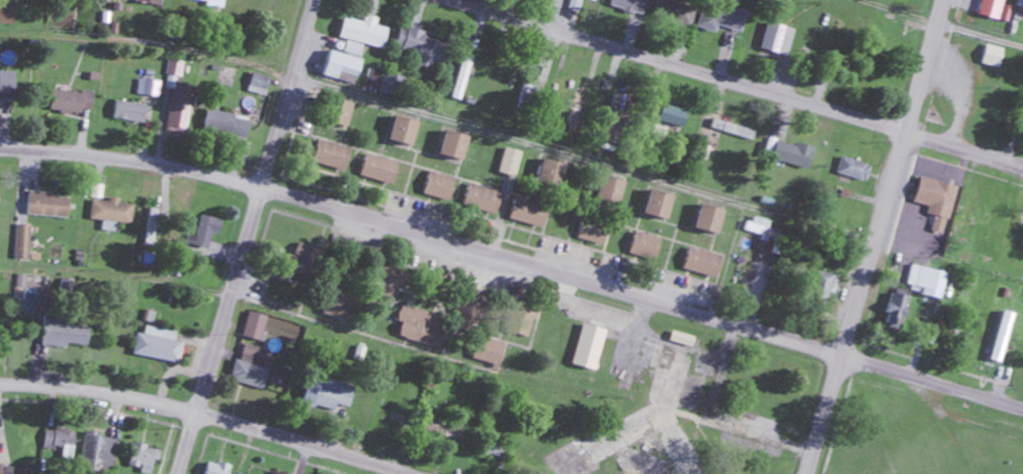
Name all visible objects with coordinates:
building: (107, 0)
building: (593, 0)
building: (207, 1)
building: (146, 2)
building: (630, 5)
building: (672, 13)
building: (721, 17)
road: (932, 28)
building: (363, 32)
building: (776, 38)
building: (423, 47)
building: (993, 56)
road: (683, 65)
building: (341, 67)
building: (258, 82)
building: (530, 83)
building: (391, 84)
building: (459, 84)
building: (7, 90)
building: (177, 97)
building: (72, 101)
building: (609, 105)
building: (577, 108)
building: (129, 111)
building: (343, 113)
building: (673, 117)
road: (440, 121)
building: (226, 124)
building: (404, 130)
building: (732, 130)
building: (455, 145)
road: (965, 145)
building: (793, 154)
building: (332, 155)
building: (380, 169)
building: (853, 169)
building: (552, 174)
building: (439, 186)
building: (611, 191)
building: (482, 200)
building: (936, 200)
building: (48, 204)
building: (660, 204)
building: (529, 212)
building: (110, 213)
building: (711, 219)
building: (963, 220)
building: (150, 227)
building: (761, 230)
road: (424, 232)
building: (592, 232)
building: (204, 233)
road: (245, 236)
road: (875, 237)
building: (22, 242)
building: (646, 246)
building: (309, 261)
building: (703, 263)
road: (114, 278)
building: (925, 281)
building: (389, 282)
building: (824, 283)
building: (341, 305)
building: (467, 308)
building: (896, 312)
building: (525, 323)
building: (254, 327)
building: (421, 327)
building: (63, 334)
building: (1003, 337)
building: (158, 345)
building: (590, 345)
building: (489, 351)
building: (251, 366)
road: (931, 381)
building: (327, 396)
building: (389, 410)
road: (212, 414)
building: (444, 431)
building: (59, 442)
building: (494, 448)
building: (96, 453)
building: (143, 458)
building: (216, 468)
building: (5, 470)

